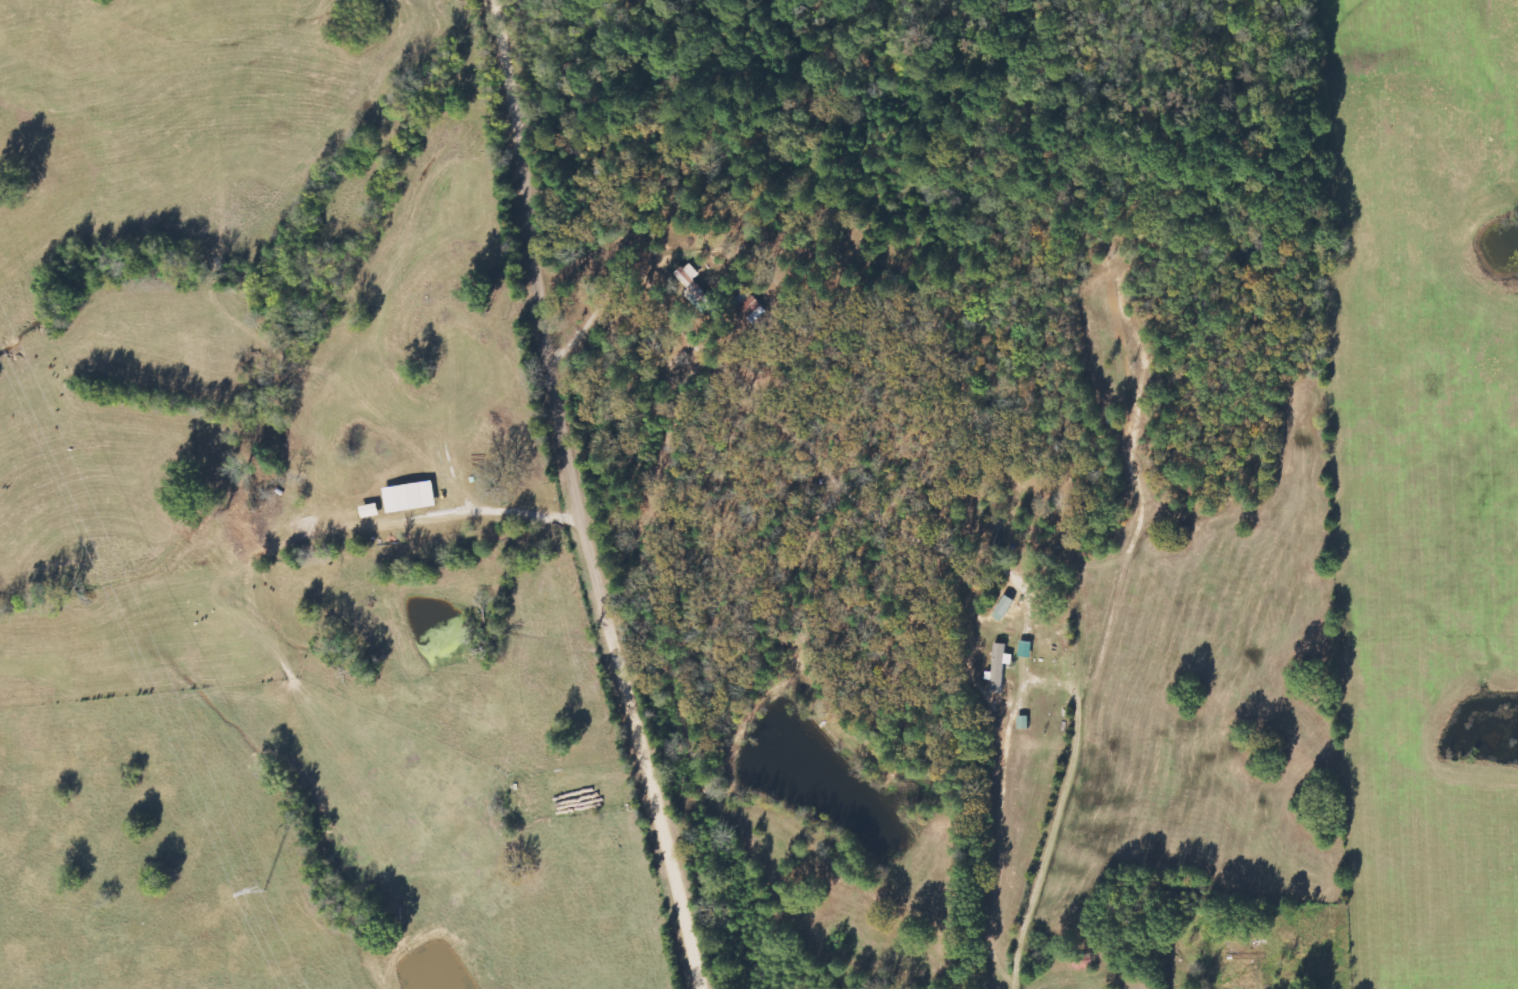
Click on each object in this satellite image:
building: (691, 281)
building: (411, 496)
road: (582, 499)
building: (371, 510)
power tower: (259, 888)

